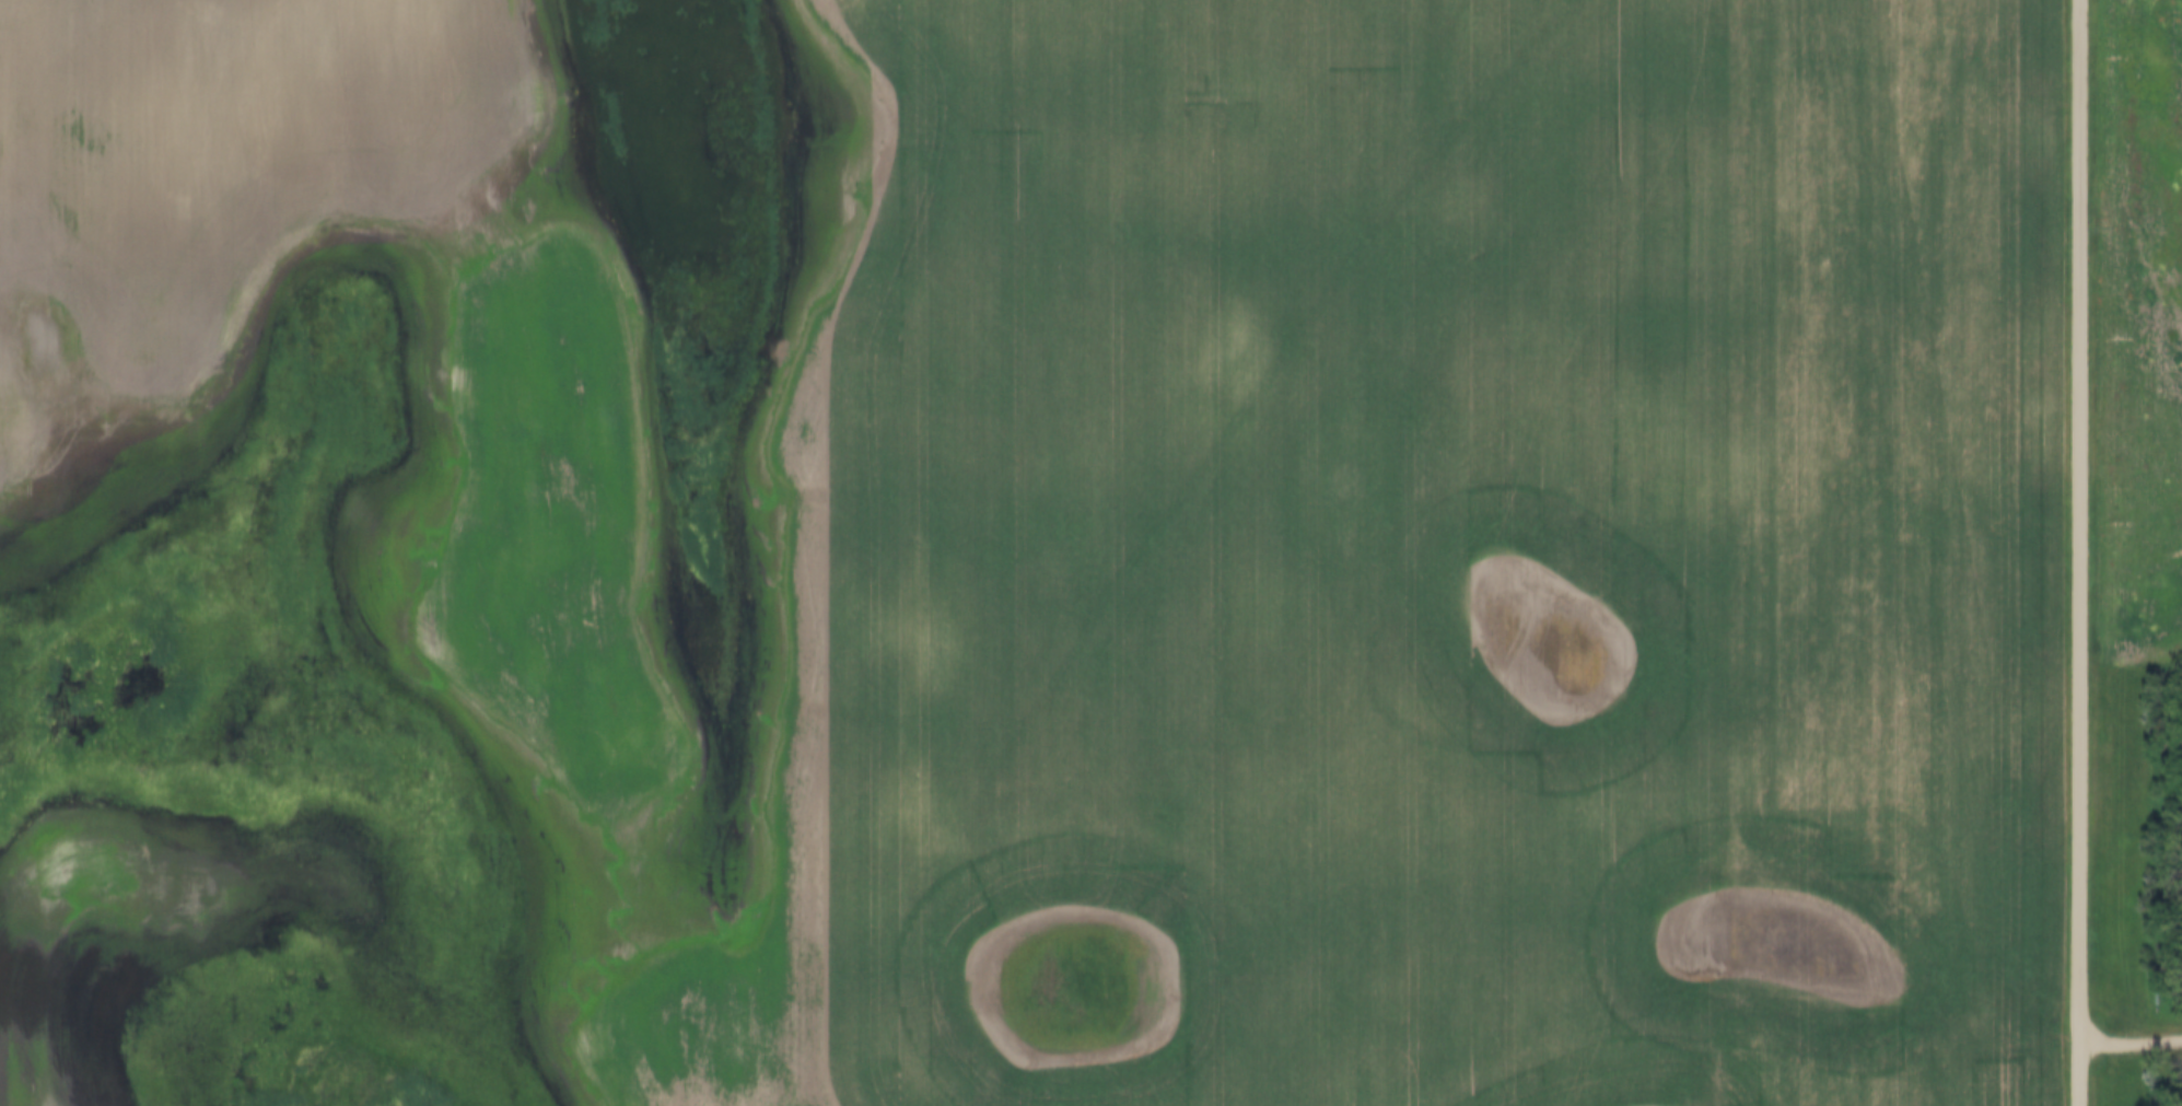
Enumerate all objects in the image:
road: (2082, 552)
road: (2133, 1033)

